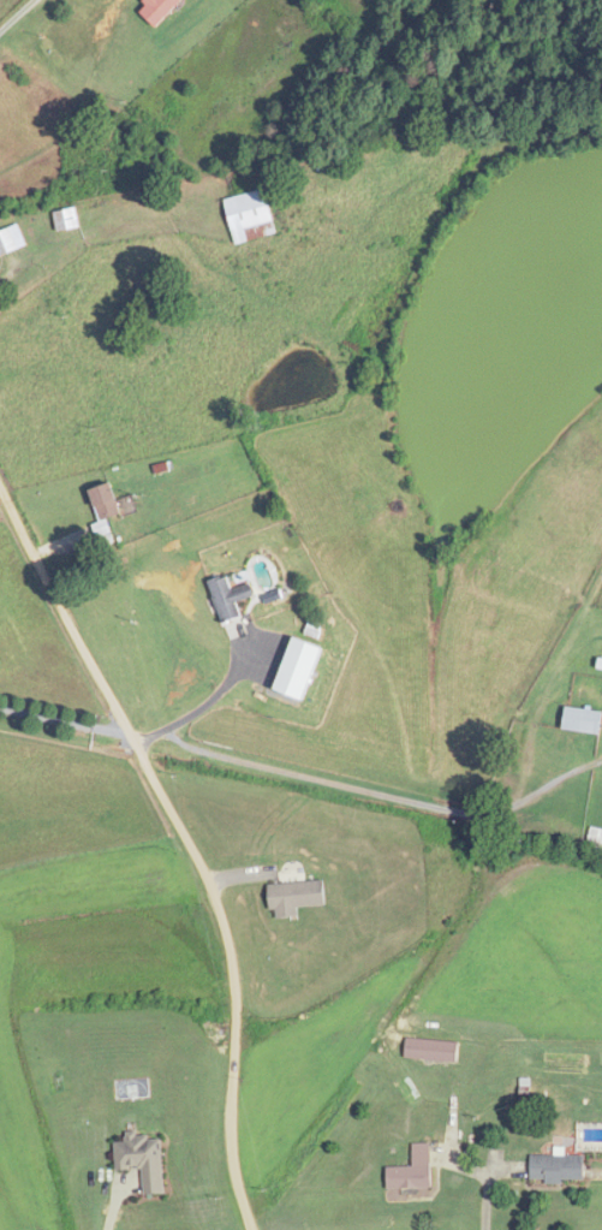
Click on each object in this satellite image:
building: (159, 10)
road: (16, 16)
building: (250, 214)
building: (66, 218)
building: (11, 238)
building: (106, 500)
building: (230, 596)
road: (77, 636)
building: (297, 672)
road: (199, 701)
road: (65, 719)
building: (583, 719)
road: (382, 792)
building: (297, 897)
road: (236, 999)
building: (433, 1048)
building: (144, 1160)
building: (559, 1167)
building: (415, 1170)

